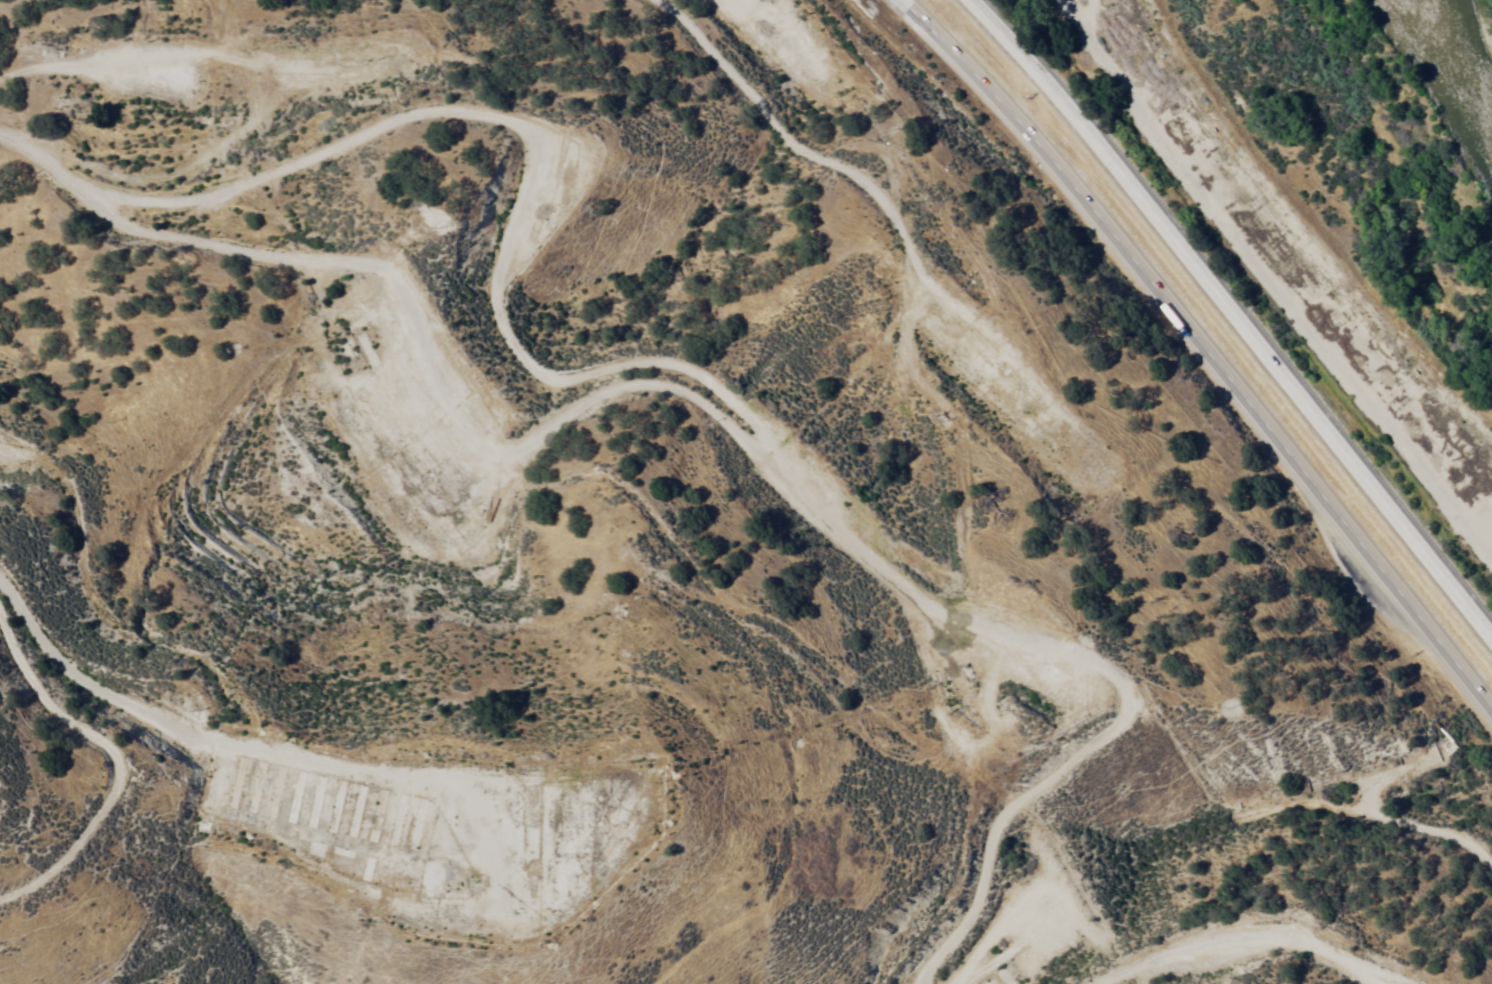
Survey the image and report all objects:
building: (1134, 55)
river: (1456, 56)
road: (15, 128)
road: (814, 147)
road: (80, 203)
road: (1296, 256)
road: (1234, 316)
road: (1203, 350)
road: (534, 436)
road: (38, 613)
road: (644, 665)
road: (1250, 836)
road: (952, 841)
road: (41, 842)
road: (1392, 891)
road: (469, 959)

